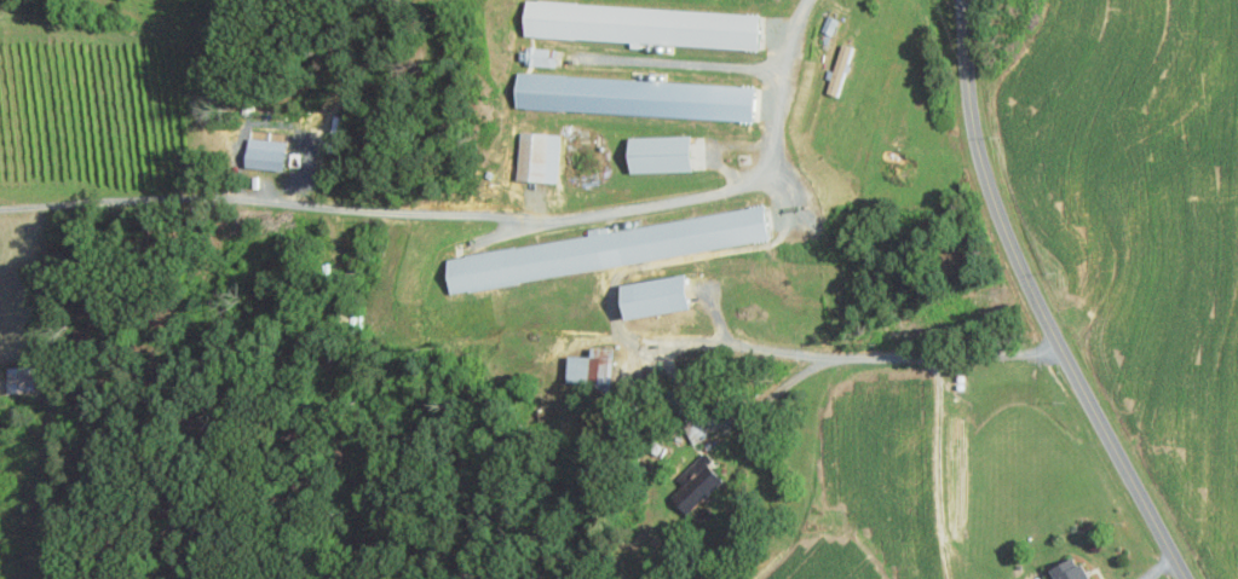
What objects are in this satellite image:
building: (643, 24)
building: (829, 24)
road: (674, 64)
building: (839, 69)
building: (635, 97)
building: (265, 154)
building: (661, 154)
building: (536, 156)
road: (468, 214)
building: (614, 248)
building: (657, 296)
road: (1029, 301)
road: (887, 357)
building: (591, 367)
building: (19, 380)
building: (697, 484)
building: (1070, 571)
road: (1152, 572)

